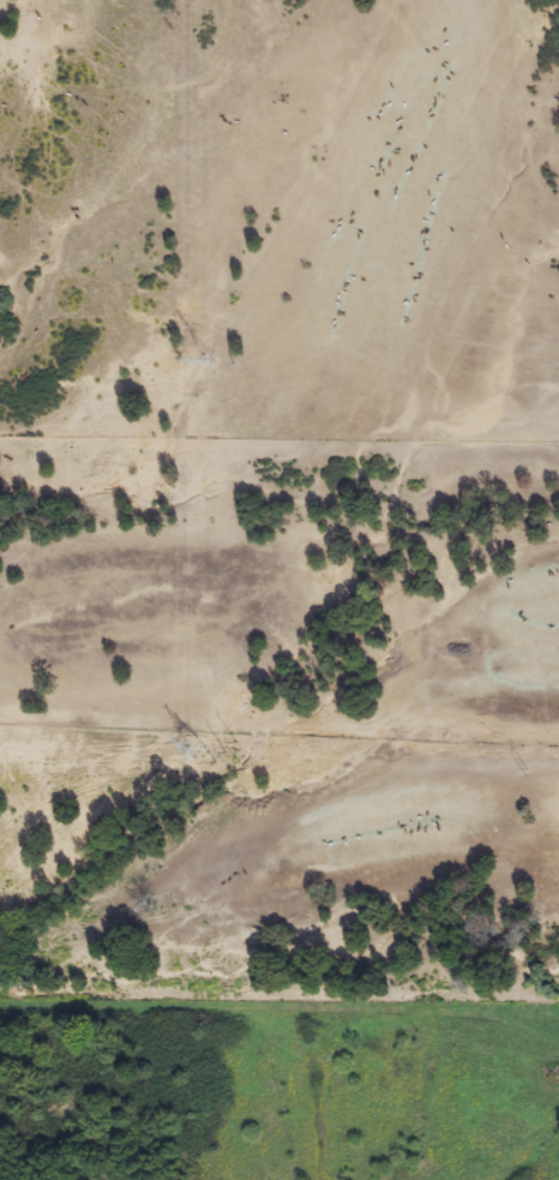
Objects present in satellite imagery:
power tower: (208, 366)
power tower: (187, 754)
power tower: (223, 756)
power tower: (527, 769)

